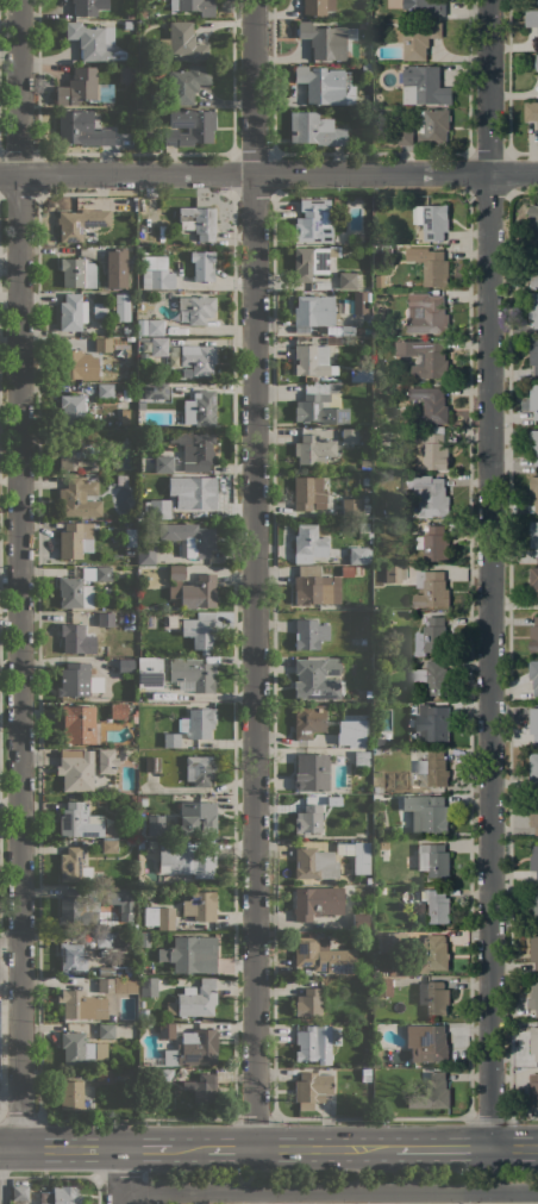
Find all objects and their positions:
building: (536, 1)
building: (194, 6)
building: (426, 6)
building: (85, 7)
building: (317, 7)
building: (142, 14)
building: (408, 15)
building: (531, 18)
building: (127, 25)
building: (417, 39)
building: (92, 40)
building: (327, 40)
building: (182, 42)
building: (536, 62)
building: (126, 74)
building: (187, 83)
building: (320, 83)
building: (426, 85)
building: (85, 89)
building: (531, 112)
building: (434, 125)
building: (189, 126)
building: (82, 129)
building: (314, 130)
building: (406, 136)
road: (269, 173)
building: (313, 220)
building: (431, 220)
building: (199, 222)
building: (80, 223)
building: (533, 223)
building: (355, 239)
building: (386, 250)
building: (105, 254)
building: (312, 261)
building: (155, 262)
building: (202, 266)
building: (431, 266)
building: (533, 267)
building: (77, 273)
building: (156, 280)
building: (349, 280)
building: (379, 281)
building: (359, 302)
building: (123, 307)
building: (198, 308)
building: (100, 310)
building: (534, 311)
building: (71, 312)
building: (313, 312)
building: (427, 313)
building: (155, 327)
building: (329, 329)
building: (351, 330)
building: (104, 344)
building: (159, 347)
building: (533, 354)
building: (425, 357)
building: (199, 358)
building: (309, 358)
building: (70, 364)
building: (332, 370)
building: (359, 376)
building: (398, 387)
building: (105, 391)
building: (156, 391)
building: (126, 394)
building: (118, 395)
building: (533, 400)
building: (431, 404)
building: (319, 405)
building: (73, 408)
building: (200, 408)
building: (124, 417)
building: (349, 436)
building: (533, 445)
building: (194, 447)
building: (313, 449)
building: (431, 450)
building: (74, 454)
building: (367, 463)
building: (163, 464)
building: (367, 481)
building: (198, 491)
building: (533, 492)
building: (308, 493)
building: (430, 495)
building: (79, 498)
building: (350, 507)
building: (365, 507)
building: (159, 513)
building: (363, 528)
building: (131, 537)
building: (533, 537)
building: (74, 538)
building: (189, 538)
building: (308, 544)
building: (433, 544)
building: (146, 554)
building: (358, 555)
building: (377, 568)
building: (346, 570)
building: (358, 570)
building: (96, 573)
road: (255, 573)
building: (394, 573)
road: (488, 573)
road: (18, 574)
building: (534, 581)
building: (314, 587)
building: (192, 589)
building: (431, 589)
building: (74, 593)
building: (105, 619)
building: (149, 622)
building: (199, 630)
building: (309, 634)
building: (533, 636)
building: (73, 637)
building: (433, 637)
building: (125, 666)
building: (148, 670)
building: (193, 673)
building: (533, 675)
building: (315, 678)
building: (432, 678)
building: (74, 679)
building: (167, 694)
building: (115, 711)
building: (308, 720)
building: (533, 722)
building: (198, 723)
building: (432, 723)
building: (77, 724)
building: (356, 734)
building: (171, 740)
building: (377, 741)
building: (142, 753)
building: (361, 757)
building: (106, 761)
building: (152, 765)
building: (533, 767)
building: (76, 769)
building: (434, 769)
building: (199, 771)
building: (312, 772)
building: (143, 801)
building: (334, 803)
building: (533, 815)
building: (426, 816)
building: (198, 819)
building: (308, 819)
building: (77, 822)
building: (156, 825)
building: (140, 844)
building: (151, 844)
building: (383, 846)
building: (110, 847)
building: (355, 855)
building: (187, 857)
building: (432, 860)
building: (534, 860)
building: (139, 862)
building: (314, 863)
building: (73, 865)
building: (381, 890)
building: (120, 900)
building: (317, 903)
building: (533, 903)
building: (437, 905)
building: (79, 906)
building: (200, 906)
building: (165, 918)
building: (359, 919)
building: (133, 927)
road: (8, 937)
building: (104, 938)
building: (144, 938)
building: (388, 940)
building: (123, 942)
building: (534, 950)
building: (190, 954)
building: (431, 954)
building: (324, 955)
building: (71, 959)
building: (110, 971)
building: (106, 985)
building: (382, 986)
building: (149, 987)
building: (534, 996)
building: (433, 997)
building: (198, 1000)
building: (308, 1003)
building: (82, 1005)
building: (170, 1008)
building: (143, 1015)
building: (364, 1025)
road: (0, 1028)
building: (105, 1031)
building: (167, 1031)
building: (534, 1042)
building: (314, 1044)
building: (430, 1044)
building: (76, 1048)
building: (192, 1049)
building: (64, 1072)
building: (104, 1077)
building: (202, 1087)
building: (311, 1090)
building: (436, 1091)
building: (533, 1091)
building: (71, 1096)
road: (371, 1117)
road: (488, 1117)
road: (521, 1117)
road: (19, 1118)
road: (137, 1118)
road: (254, 1118)
road: (442, 1147)
road: (513, 1147)
road: (58, 1148)
road: (139, 1148)
road: (279, 1148)
road: (49, 1174)
road: (117, 1175)
road: (0, 1189)
road: (98, 1190)
road: (113, 1190)
road: (327, 1191)
building: (19, 1192)
building: (60, 1194)

